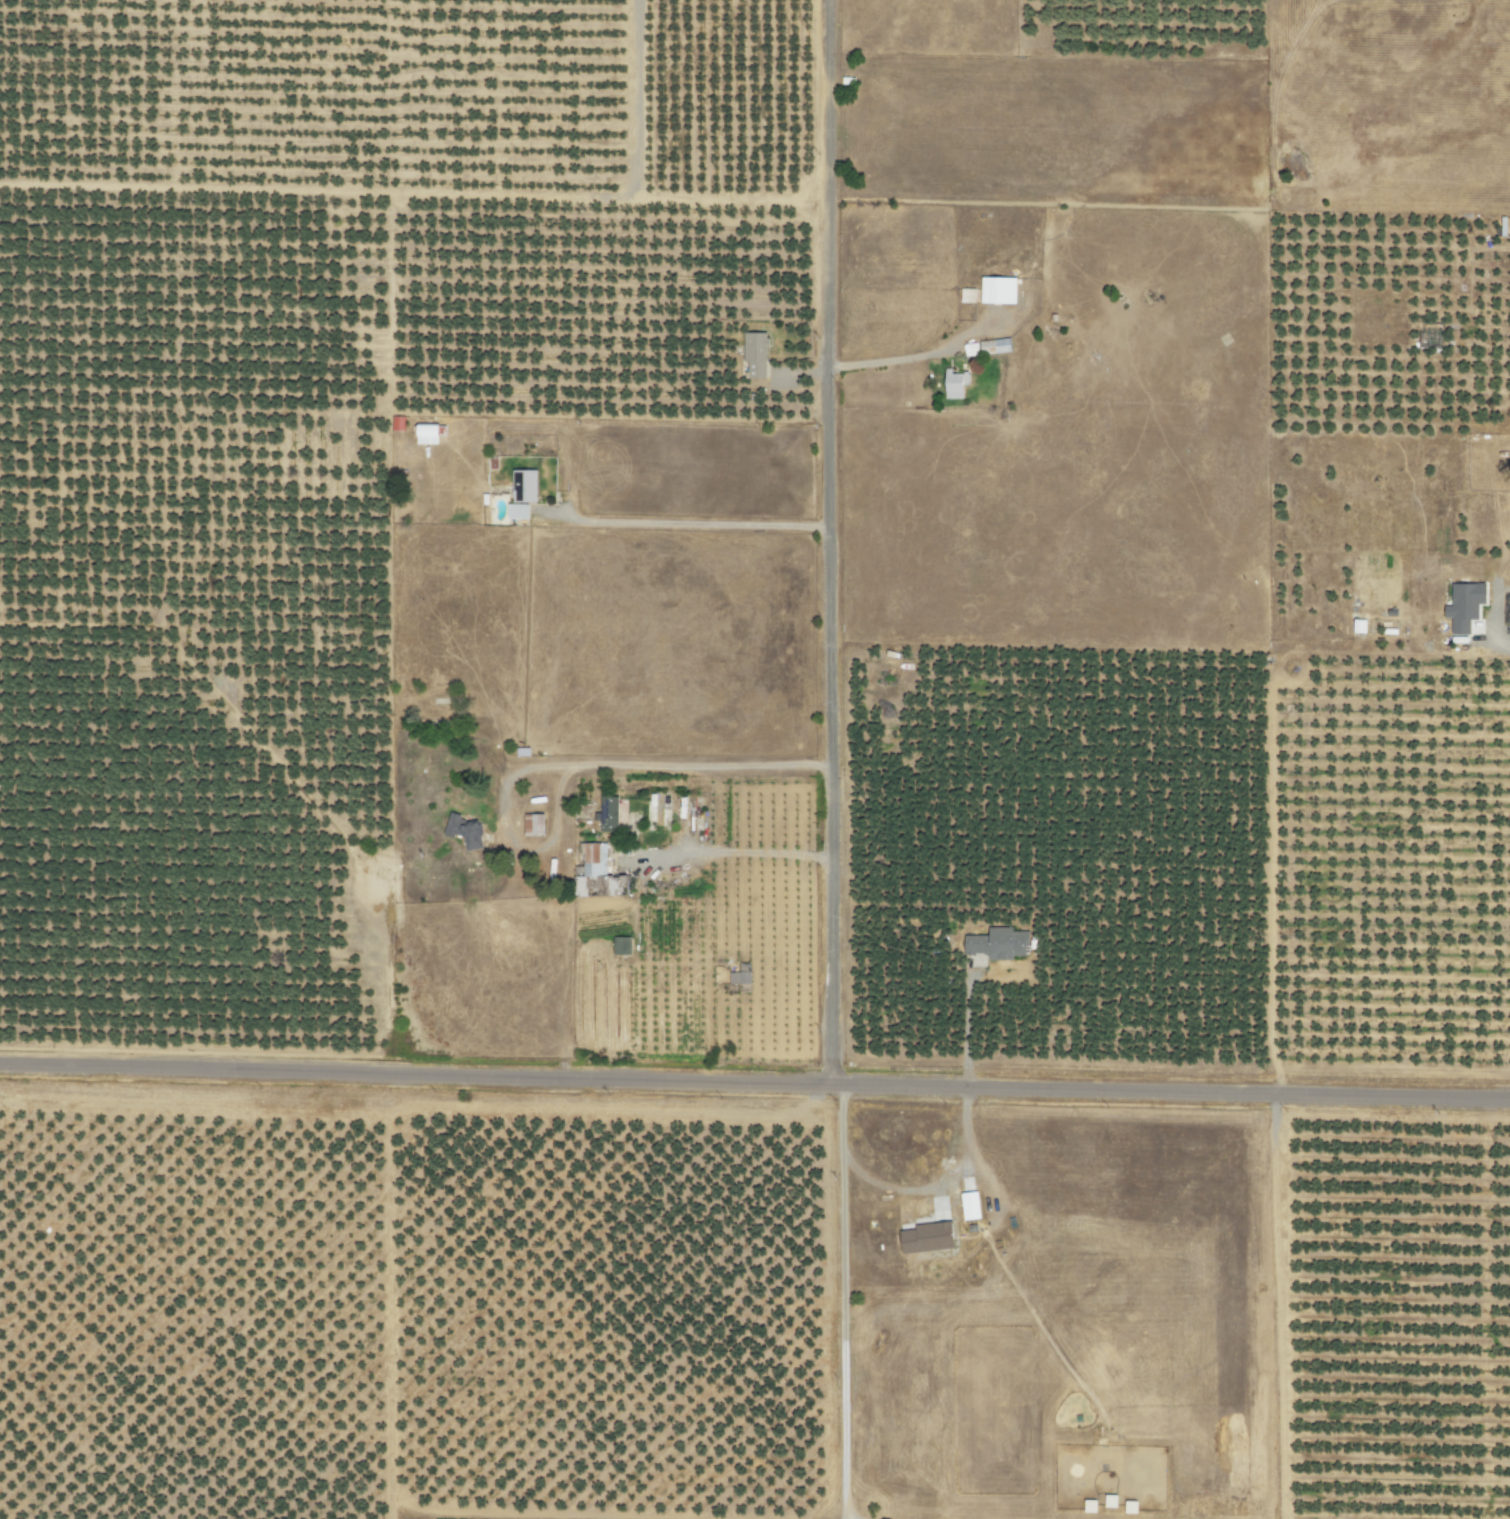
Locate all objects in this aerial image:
building: (997, 290)
building: (966, 296)
building: (994, 346)
building: (970, 349)
building: (754, 356)
building: (953, 384)
building: (396, 423)
building: (524, 486)
building: (516, 512)
road: (683, 522)
road: (827, 542)
building: (1464, 606)
road: (1501, 645)
building: (608, 814)
building: (532, 825)
building: (464, 831)
road: (727, 852)
building: (597, 871)
building: (997, 944)
building: (621, 946)
building: (740, 979)
road: (754, 1084)
road: (408, 1108)
building: (968, 1206)
building: (926, 1238)
road: (1280, 1306)

